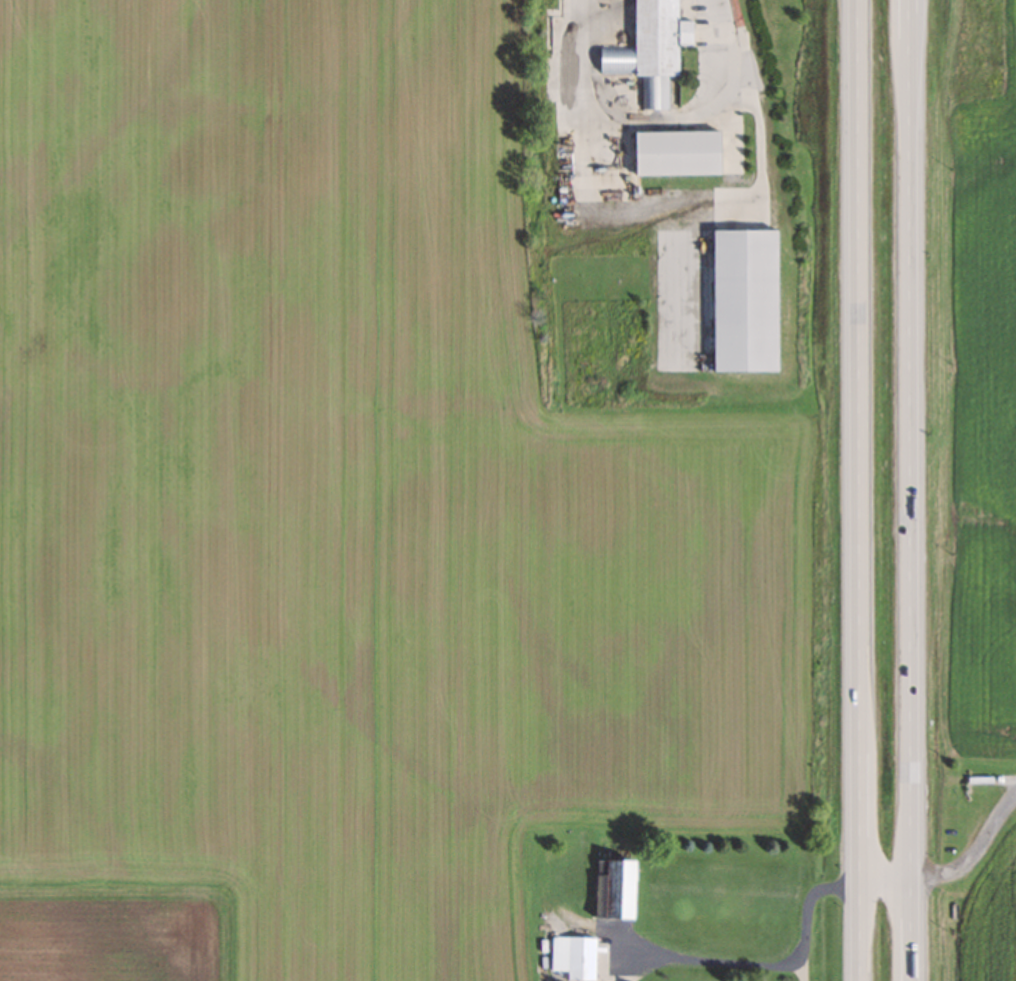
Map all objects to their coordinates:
building: (648, 50)
road: (582, 96)
building: (673, 152)
building: (741, 300)
road: (859, 490)
road: (909, 490)
road: (974, 847)
road: (885, 872)
building: (611, 889)
road: (808, 919)
building: (572, 957)
road: (719, 972)

